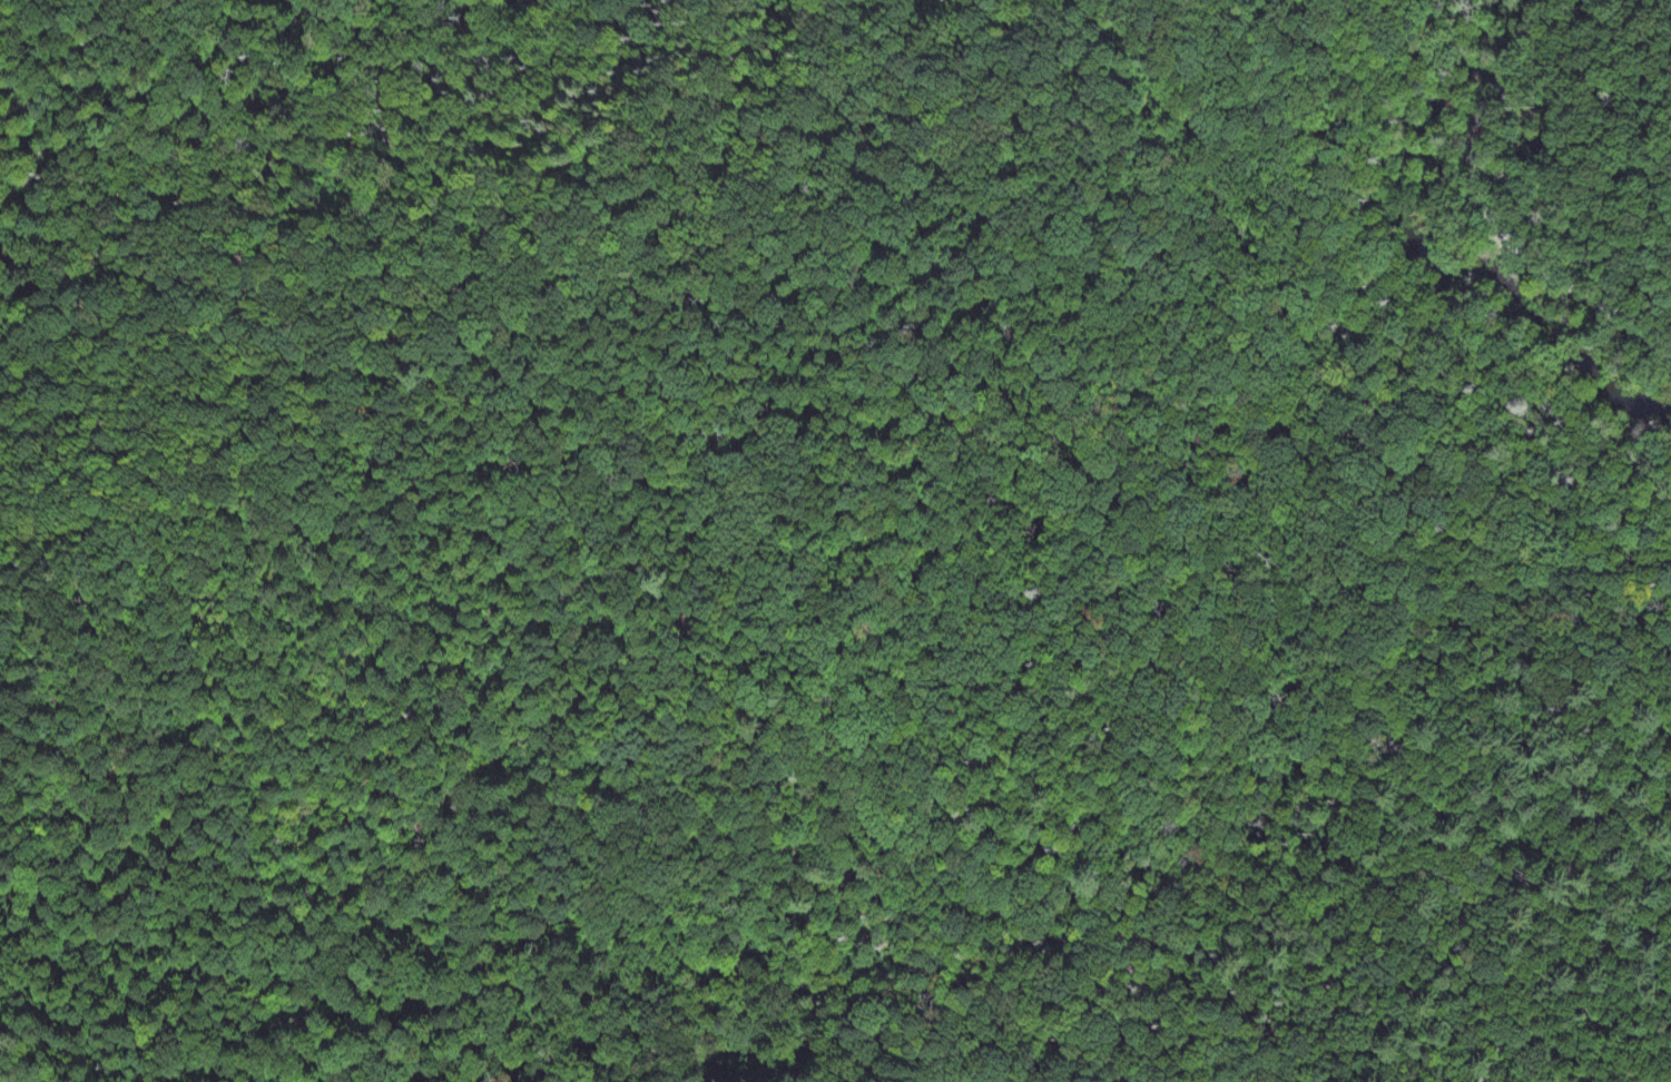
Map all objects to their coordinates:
road: (1490, 213)

